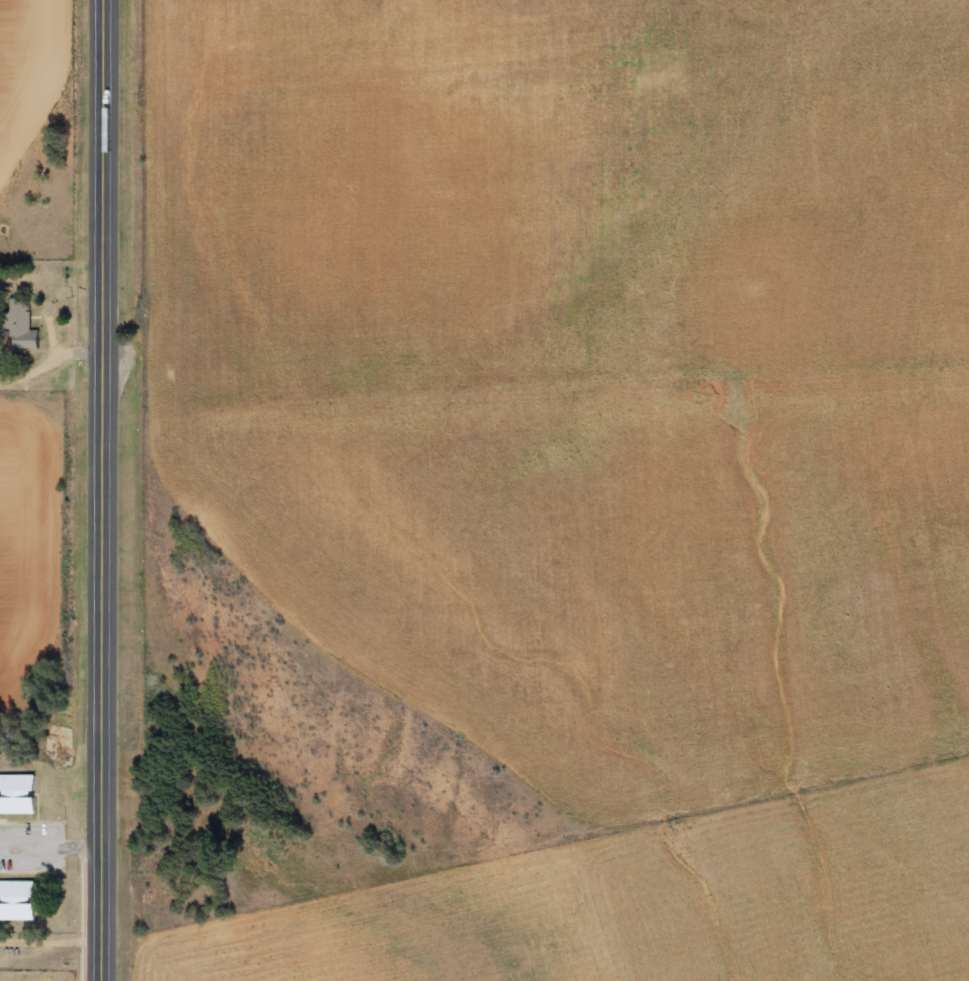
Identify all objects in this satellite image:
road: (105, 210)
building: (21, 329)
road: (102, 700)
building: (17, 795)

